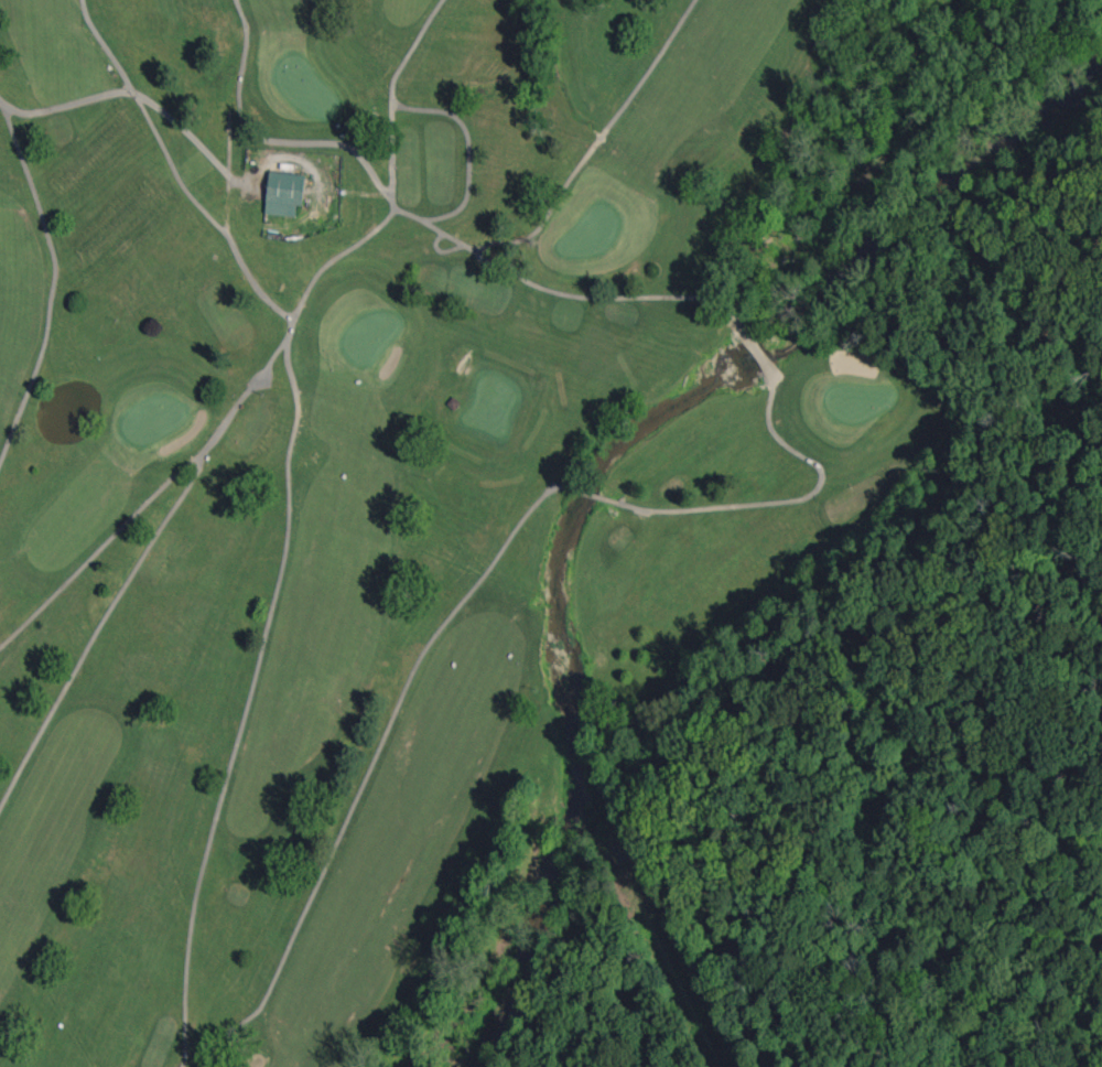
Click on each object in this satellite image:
park: (304, 86)
road: (66, 104)
building: (281, 192)
park: (590, 233)
road: (444, 247)
park: (370, 335)
park: (857, 400)
building: (453, 402)
park: (152, 419)
river: (595, 465)
park: (372, 477)

